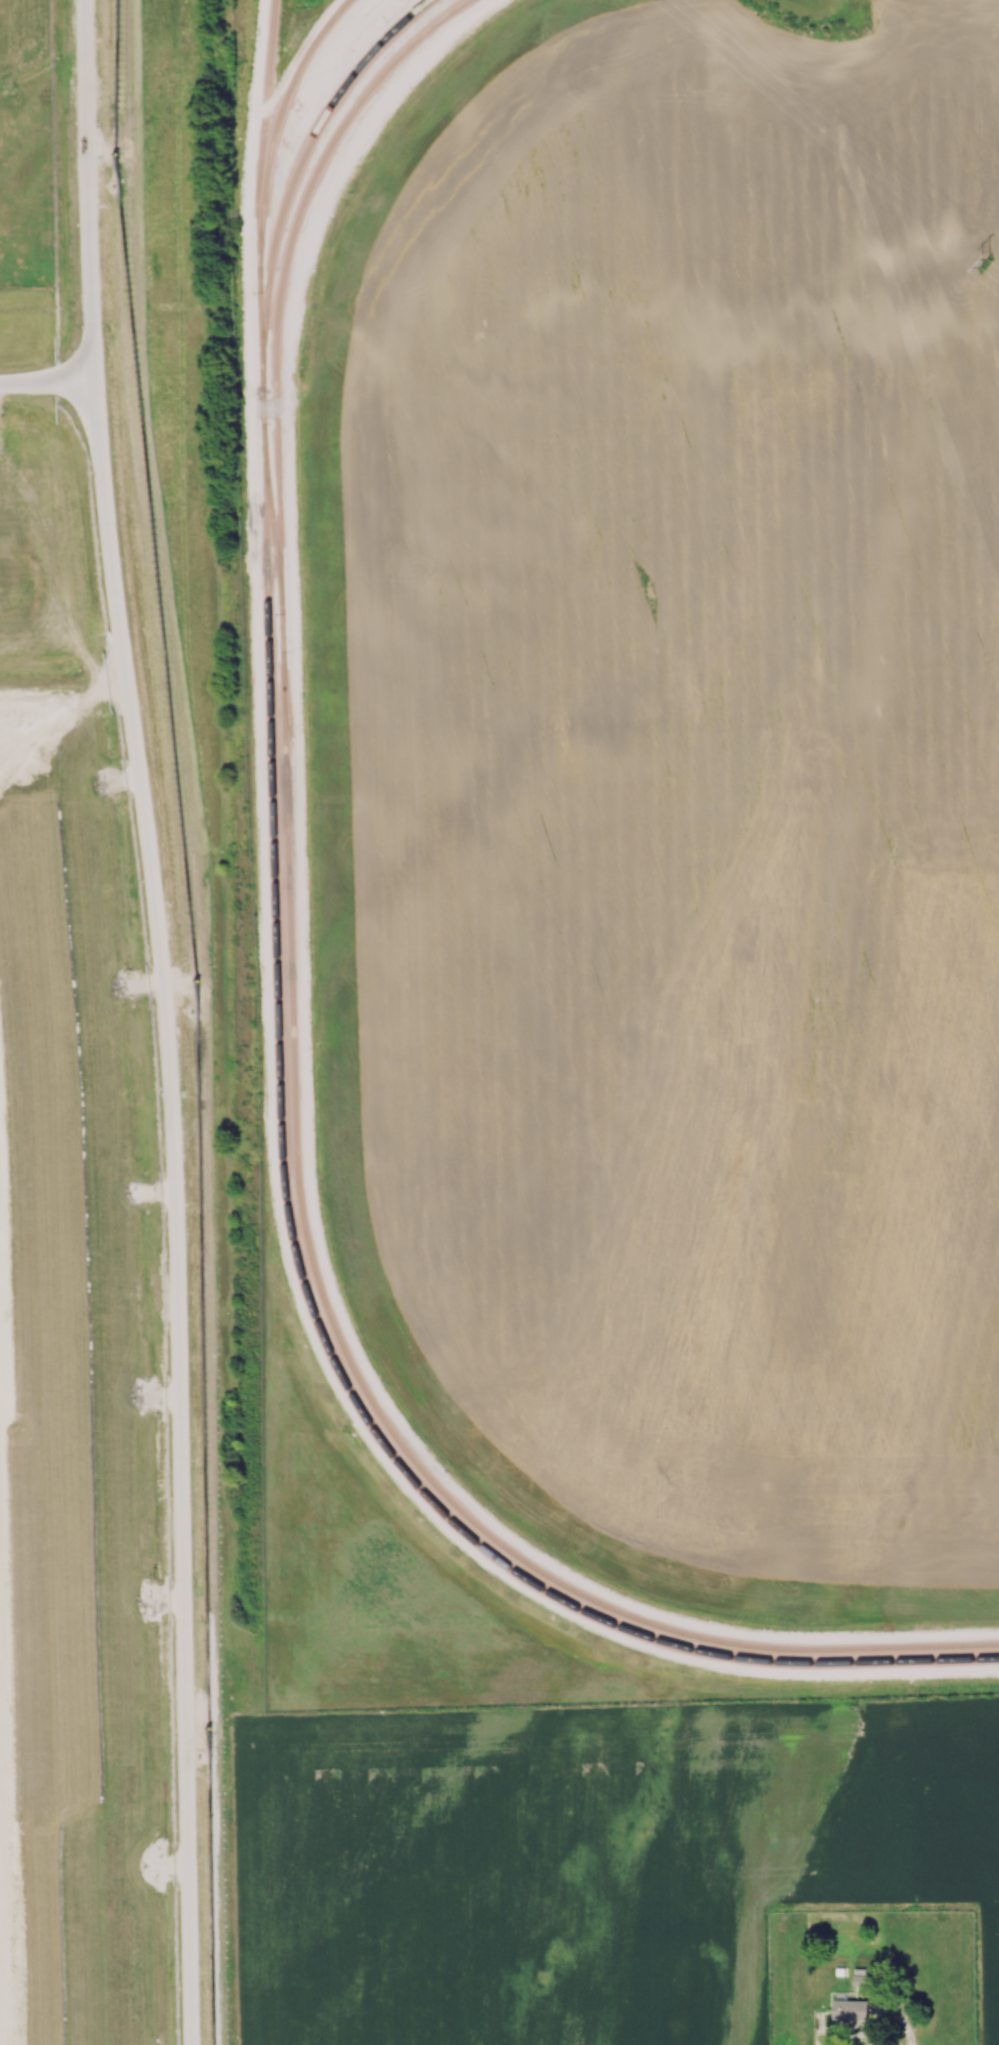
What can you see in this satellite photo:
railway: (276, 128)
wastewater plant: (27, 144)
railway: (297, 173)
railway: (258, 196)
railway: (286, 262)
power tower: (985, 263)
road: (47, 383)
railway: (272, 519)
road: (166, 1020)
railway: (301, 1270)
railway: (346, 1353)
road: (896, 2018)

